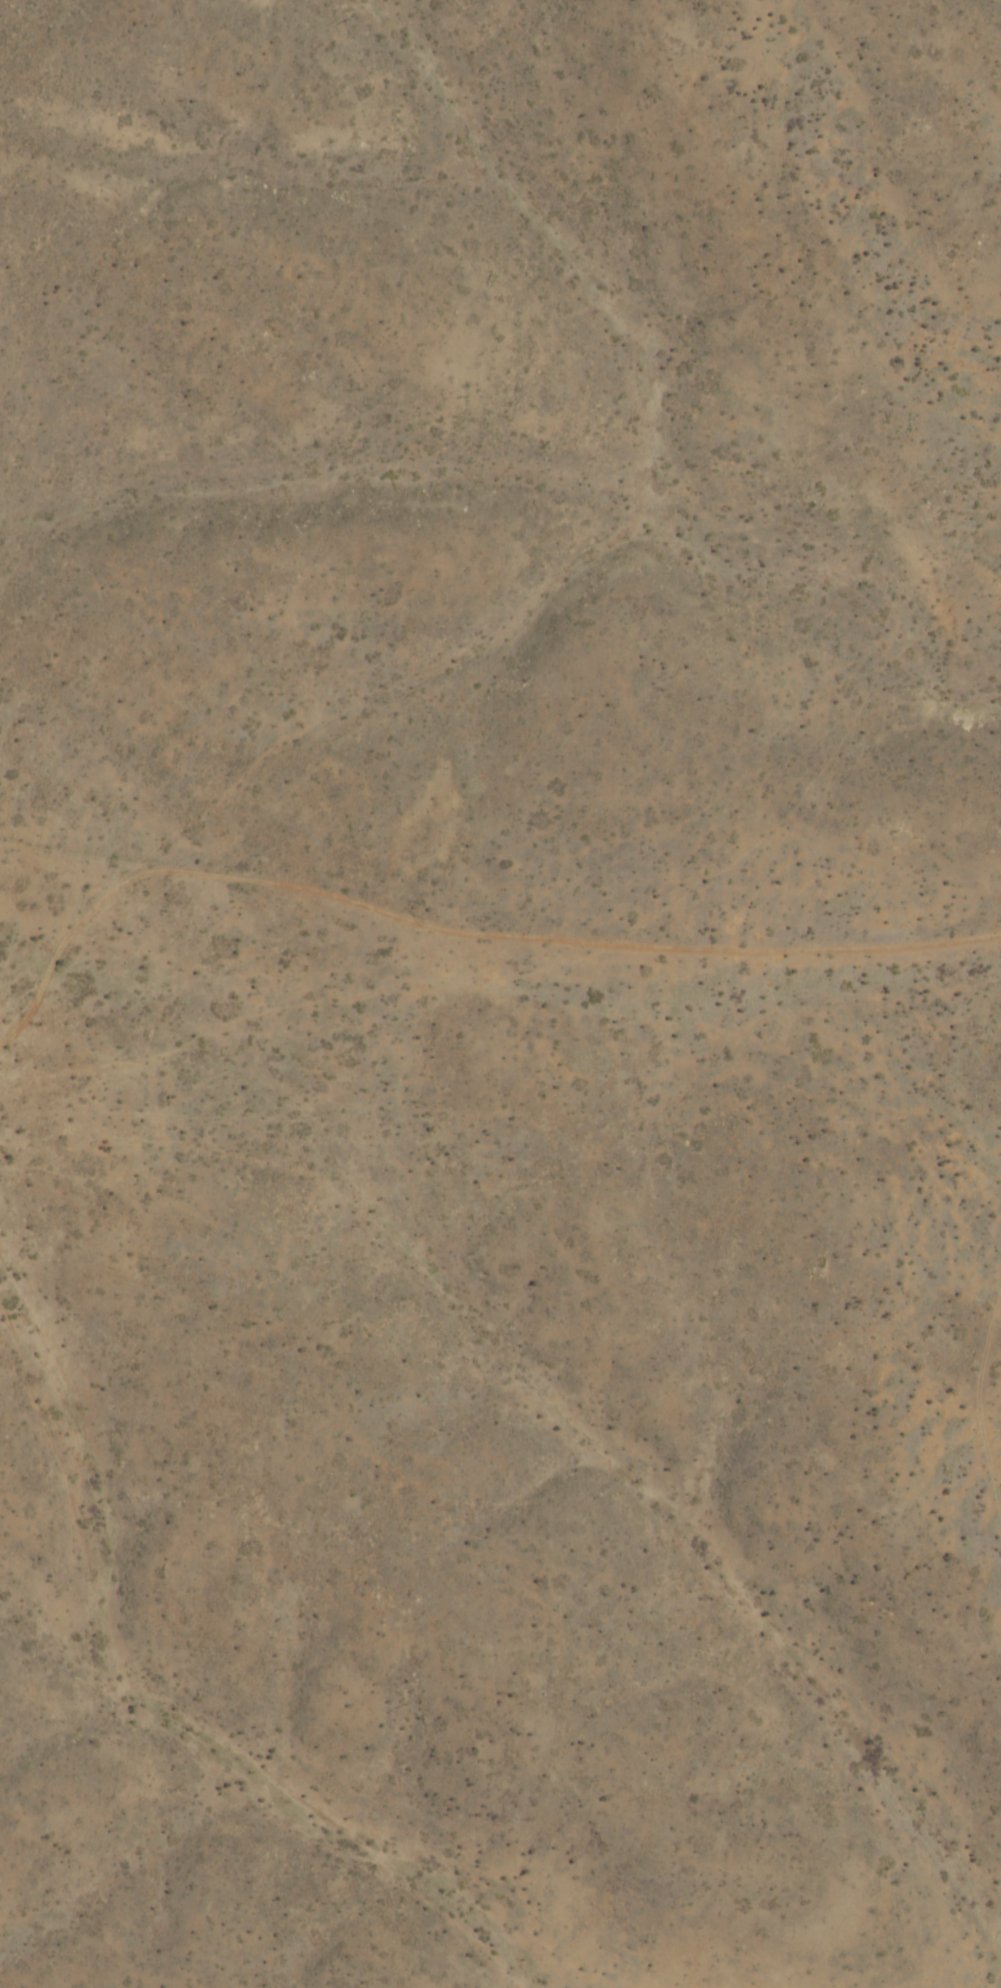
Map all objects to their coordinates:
road: (499, 943)

